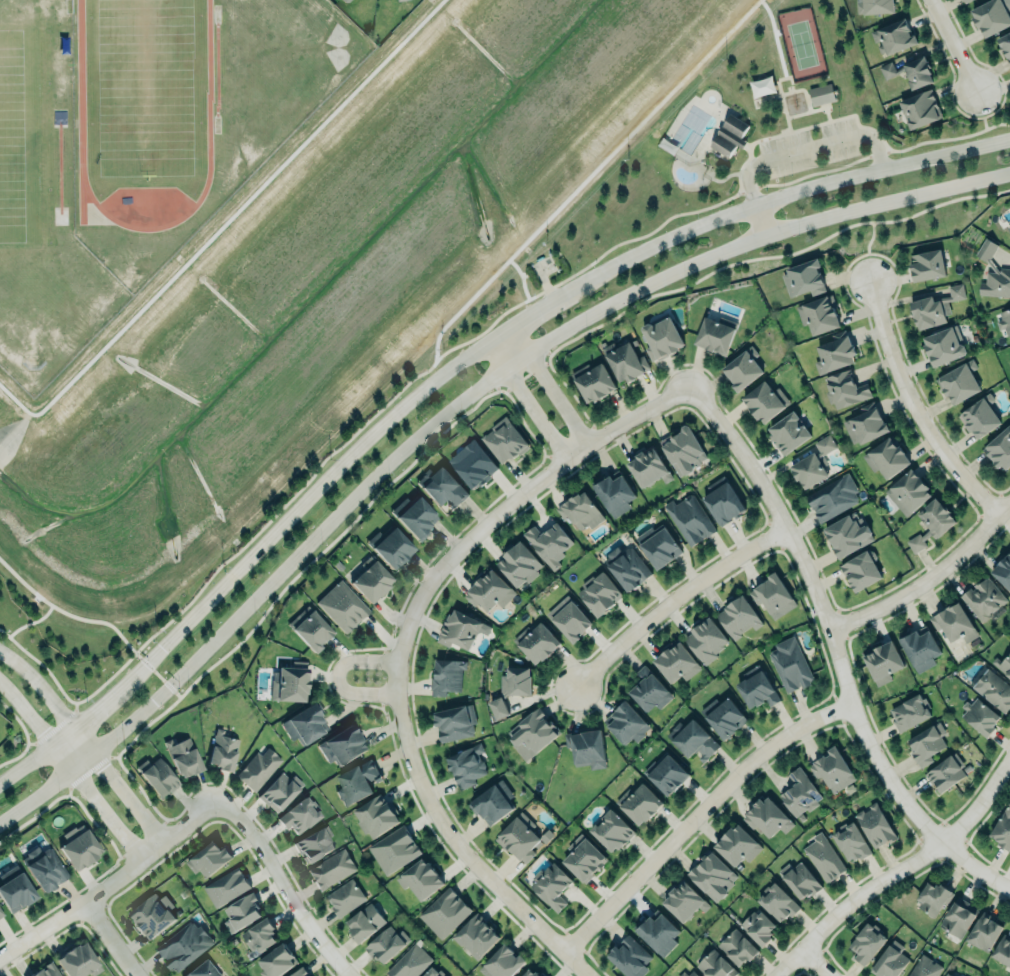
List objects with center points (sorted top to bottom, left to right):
building: (346, 0)
building: (401, 0)
building: (966, 1)
building: (875, 6)
building: (992, 16)
building: (894, 38)
park: (802, 44)
building: (1005, 46)
road: (950, 48)
building: (911, 72)
building: (820, 94)
building: (920, 109)
road: (984, 120)
building: (730, 136)
water park: (701, 137)
parking lot: (809, 148)
road: (808, 149)
road: (761, 221)
building: (1009, 228)
road: (867, 243)
building: (985, 250)
building: (926, 265)
building: (803, 279)
building: (996, 283)
building: (935, 308)
building: (819, 315)
building: (1005, 321)
building: (716, 335)
building: (662, 338)
building: (944, 346)
building: (835, 355)
building: (628, 363)
road: (447, 367)
building: (742, 369)
building: (957, 381)
building: (593, 382)
road: (547, 383)
building: (844, 390)
road: (522, 400)
building: (765, 401)
road: (449, 407)
road: (914, 408)
building: (980, 417)
building: (865, 424)
building: (788, 433)
building: (505, 441)
building: (1000, 449)
building: (685, 452)
building: (888, 459)
building: (473, 464)
building: (813, 465)
building: (649, 469)
building: (441, 487)
building: (909, 493)
building: (614, 494)
building: (834, 498)
building: (724, 504)
road: (501, 508)
building: (581, 511)
building: (415, 517)
building: (689, 517)
building: (932, 524)
building: (848, 535)
building: (550, 544)
building: (390, 547)
building: (661, 548)
building: (519, 565)
building: (626, 567)
building: (861, 571)
building: (1003, 571)
road: (927, 575)
building: (371, 579)
building: (489, 591)
building: (773, 593)
building: (599, 594)
road: (669, 597)
building: (984, 598)
building: (342, 606)
road: (822, 613)
building: (738, 618)
building: (572, 622)
building: (953, 623)
building: (310, 628)
building: (461, 630)
building: (705, 639)
building: (537, 642)
traffic signals: (160, 646)
building: (920, 649)
road: (359, 659)
building: (676, 661)
building: (883, 662)
building: (790, 663)
building: (1003, 663)
building: (446, 676)
building: (290, 681)
building: (516, 682)
building: (756, 686)
building: (649, 688)
building: (994, 689)
road: (358, 693)
traffic signals: (153, 701)
building: (909, 713)
building: (979, 716)
building: (723, 717)
building: (626, 721)
building: (304, 722)
building: (456, 723)
building: (532, 732)
building: (692, 740)
road: (86, 741)
building: (926, 742)
building: (342, 744)
building: (587, 747)
building: (222, 749)
building: (183, 754)
building: (466, 763)
building: (258, 768)
building: (832, 768)
road: (70, 770)
building: (666, 772)
building: (946, 773)
building: (157, 776)
building: (357, 780)
building: (279, 791)
building: (800, 793)
building: (490, 804)
building: (638, 804)
building: (297, 813)
road: (694, 813)
building: (375, 814)
building: (767, 817)
building: (875, 824)
building: (1002, 827)
building: (612, 829)
building: (523, 836)
building: (851, 840)
building: (313, 842)
building: (737, 844)
building: (79, 846)
building: (394, 849)
road: (459, 852)
building: (583, 856)
building: (207, 857)
building: (821, 858)
building: (44, 866)
building: (331, 868)
road: (896, 869)
road: (974, 869)
building: (711, 875)
building: (420, 877)
building: (799, 878)
road: (109, 882)
building: (551, 883)
building: (226, 885)
road: (282, 886)
building: (14, 888)
building: (933, 897)
building: (345, 898)
building: (777, 900)
building: (684, 901)
building: (445, 912)
building: (1, 913)
building: (241, 913)
building: (152, 915)
building: (958, 916)
building: (365, 921)
building: (758, 927)
building: (656, 933)
building: (984, 933)
building: (259, 936)
building: (476, 937)
road: (111, 939)
building: (866, 942)
building: (184, 944)
building: (385, 945)
building: (732, 946)
building: (1003, 949)
building: (629, 956)
building: (78, 959)
building: (890, 960)
building: (276, 961)
building: (500, 961)
building: (410, 962)
road: (813, 963)
building: (715, 965)
building: (924, 967)
building: (201, 969)
building: (45, 970)
building: (298, 971)
building: (433, 972)
building: (530, 973)
building: (688, 974)
building: (948, 974)
building: (309, 975)

